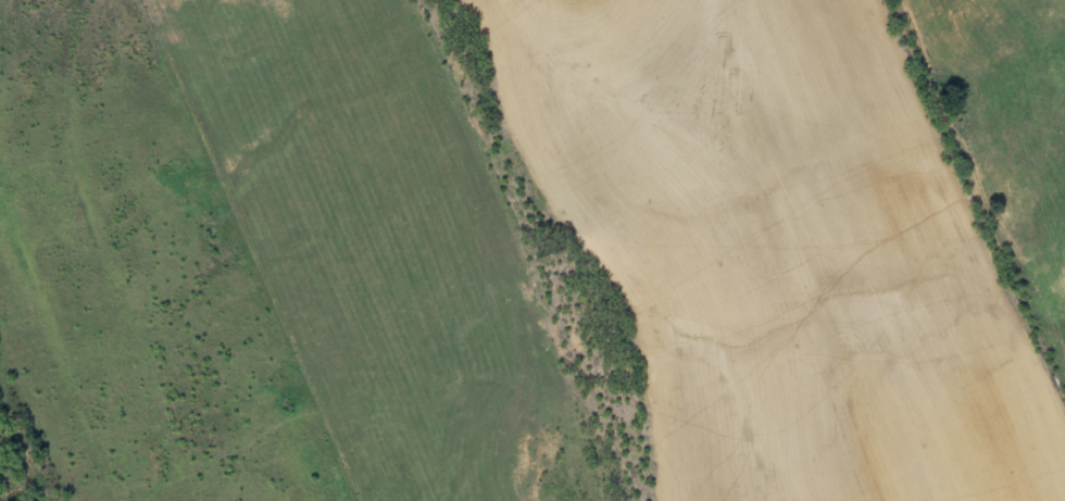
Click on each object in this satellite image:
road: (491, 111)
road: (1007, 115)

